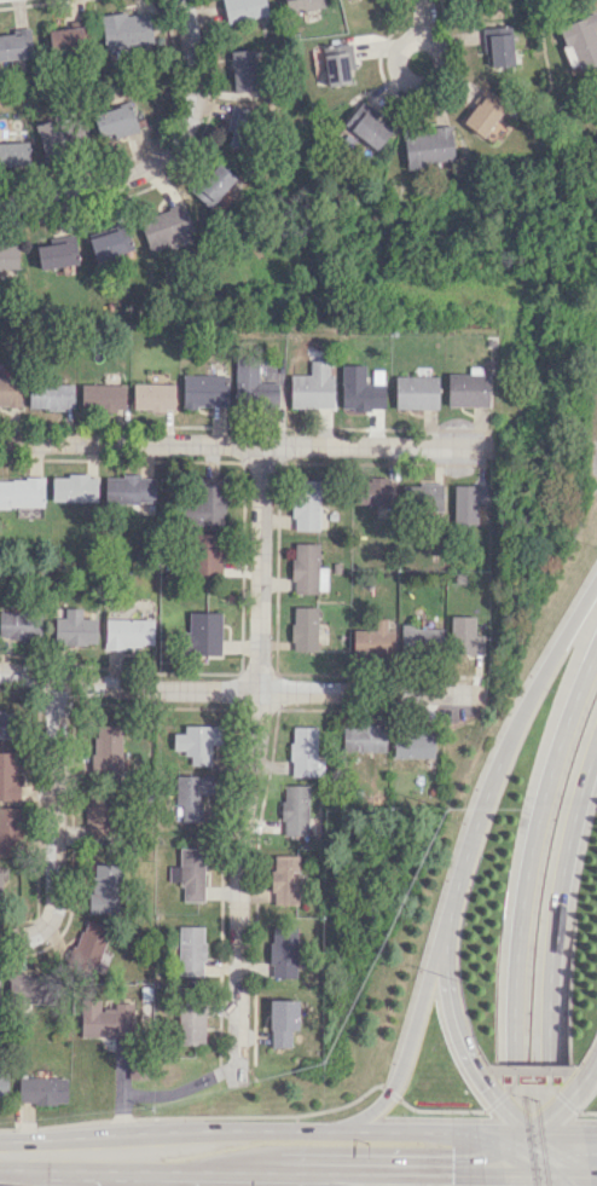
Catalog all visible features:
building: (303, 5)
road: (24, 6)
building: (243, 8)
road: (417, 21)
building: (126, 29)
building: (65, 39)
building: (580, 41)
building: (15, 45)
building: (497, 46)
building: (337, 64)
building: (242, 66)
road: (431, 76)
building: (243, 87)
building: (481, 115)
building: (115, 122)
building: (365, 125)
building: (236, 127)
building: (493, 131)
building: (59, 135)
road: (149, 144)
building: (427, 145)
building: (13, 154)
road: (162, 157)
road: (172, 172)
building: (213, 185)
building: (166, 227)
building: (109, 243)
building: (56, 253)
building: (8, 255)
building: (253, 386)
building: (313, 386)
building: (361, 387)
building: (466, 389)
building: (8, 390)
building: (204, 390)
building: (416, 392)
building: (50, 395)
building: (152, 395)
building: (103, 397)
road: (243, 427)
road: (243, 444)
road: (139, 459)
road: (277, 467)
building: (74, 487)
building: (128, 490)
building: (373, 491)
building: (21, 492)
building: (423, 497)
building: (466, 502)
building: (205, 503)
building: (305, 504)
building: (207, 556)
building: (307, 569)
building: (19, 625)
building: (303, 627)
building: (75, 629)
building: (128, 632)
building: (204, 632)
building: (464, 636)
building: (371, 638)
building: (421, 640)
road: (546, 665)
road: (224, 672)
road: (359, 673)
road: (238, 689)
road: (40, 692)
road: (182, 707)
building: (4, 723)
building: (363, 737)
building: (197, 742)
building: (412, 744)
building: (105, 748)
building: (303, 751)
road: (249, 764)
building: (7, 776)
road: (263, 789)
building: (191, 796)
building: (295, 809)
building: (97, 810)
road: (39, 822)
road: (56, 829)
building: (10, 831)
road: (470, 847)
building: (190, 873)
building: (284, 879)
building: (1, 884)
building: (104, 887)
road: (521, 910)
building: (88, 945)
building: (190, 950)
building: (283, 951)
road: (551, 961)
building: (30, 988)
building: (104, 1019)
road: (454, 1020)
building: (191, 1022)
building: (282, 1022)
road: (408, 1041)
road: (586, 1072)
building: (2, 1086)
traffic signals: (486, 1086)
building: (42, 1089)
road: (529, 1092)
road: (389, 1093)
road: (499, 1097)
road: (566, 1101)
road: (488, 1106)
road: (439, 1110)
road: (553, 1112)
road: (578, 1112)
road: (587, 1112)
road: (510, 1113)
road: (193, 1117)
road: (285, 1129)
road: (473, 1133)
road: (539, 1134)
road: (590, 1134)
road: (512, 1139)
road: (480, 1141)
road: (590, 1145)
road: (556, 1152)
road: (70, 1153)
road: (7, 1155)
road: (474, 1159)
road: (561, 1159)
road: (518, 1162)
road: (186, 1168)
road: (15, 1170)
road: (290, 1171)
road: (592, 1171)
road: (389, 1173)
traffic signals: (451, 1174)
road: (476, 1174)
road: (544, 1175)
road: (592, 1175)
road: (337, 1179)
road: (532, 1180)
road: (551, 1180)

